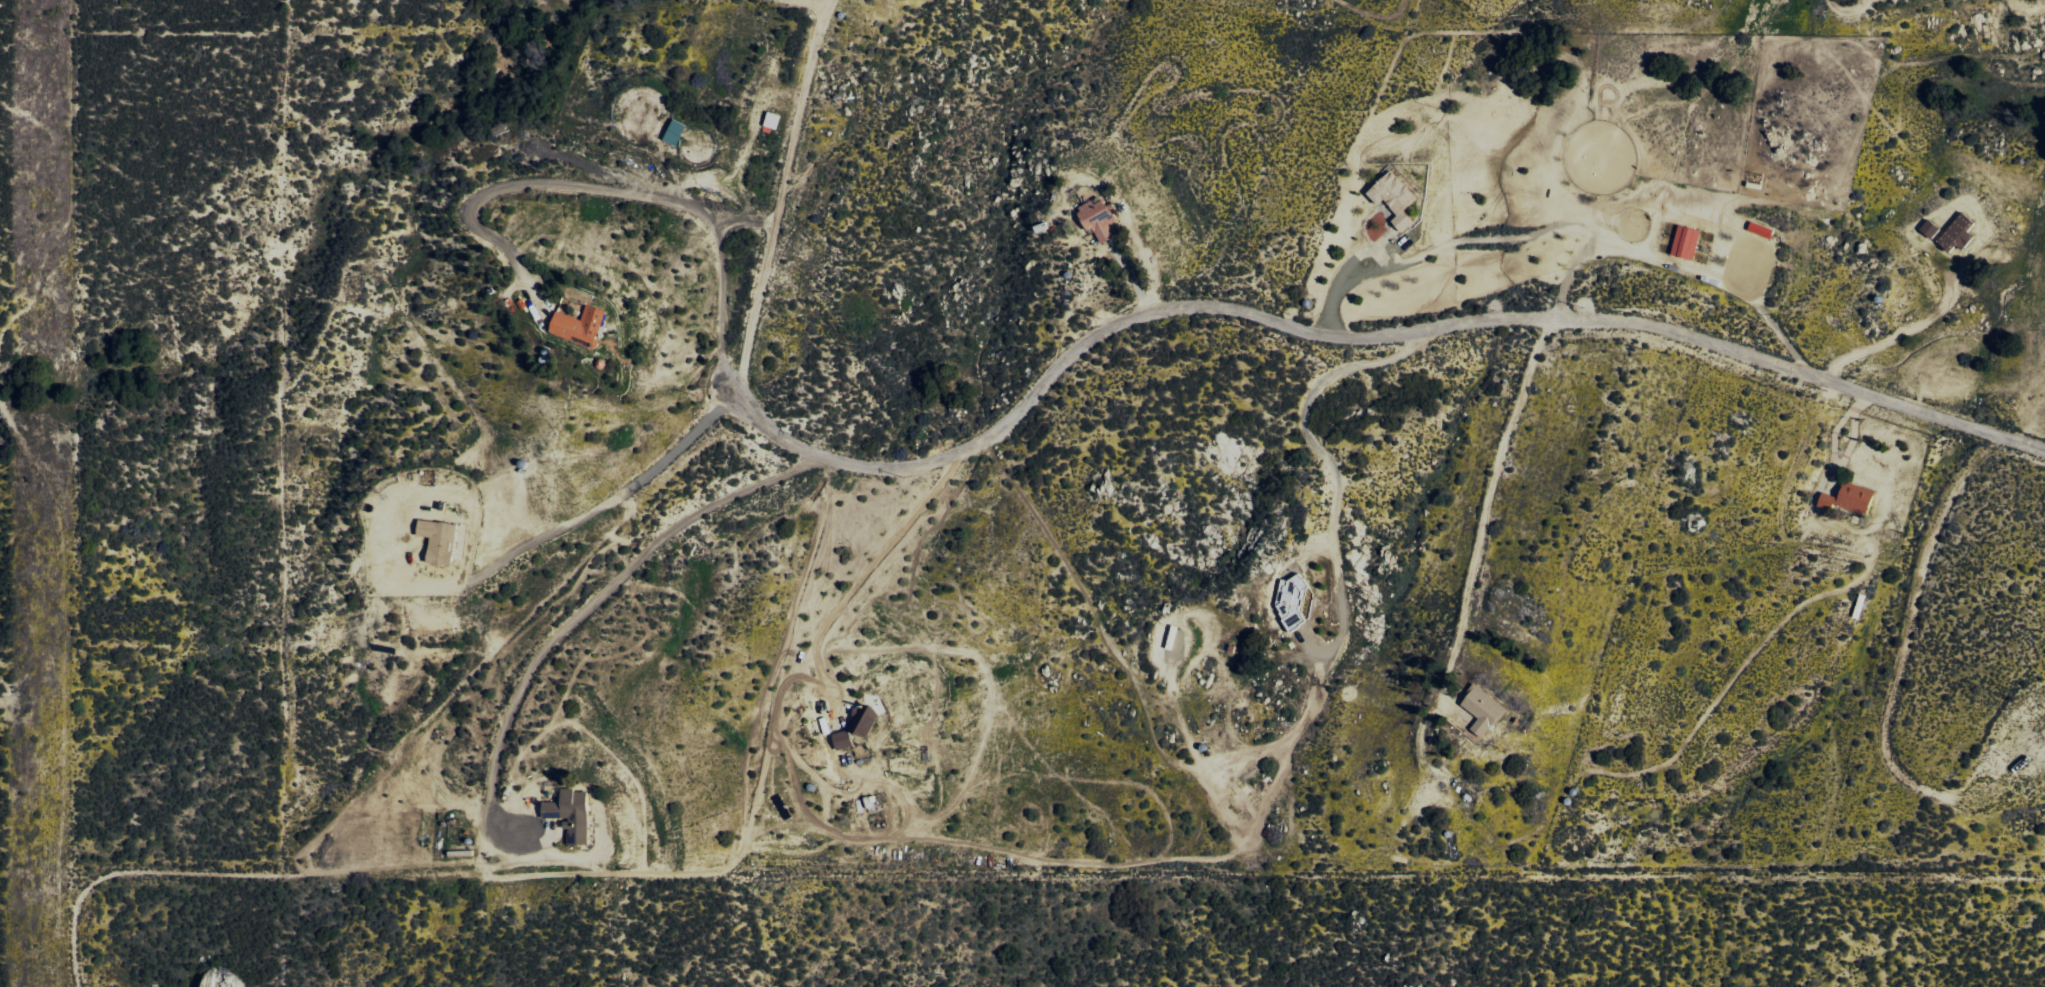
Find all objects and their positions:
building: (772, 119)
building: (675, 132)
building: (1397, 198)
building: (1098, 218)
building: (1930, 228)
building: (1761, 229)
building: (1958, 232)
building: (1686, 242)
building: (578, 324)
road: (1350, 331)
building: (1850, 498)
building: (439, 540)
building: (1293, 598)
building: (1483, 709)
building: (864, 720)
building: (842, 739)
building: (571, 814)

